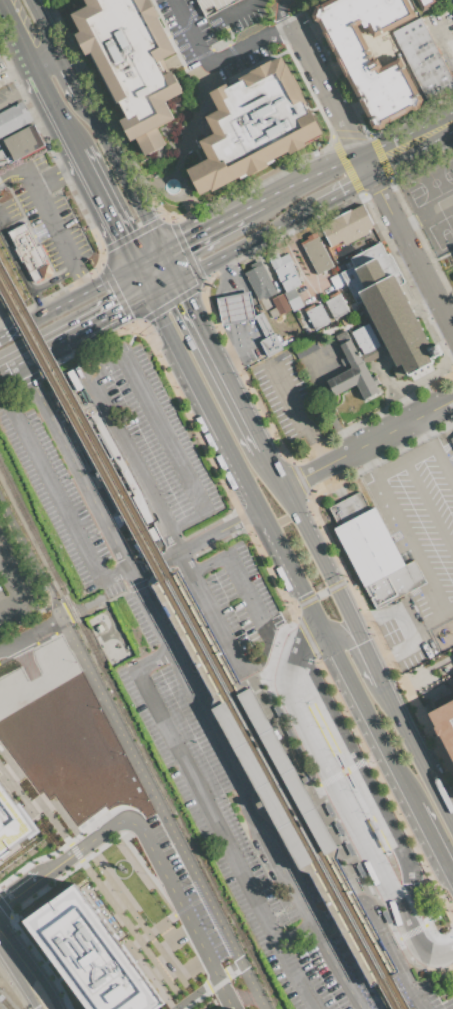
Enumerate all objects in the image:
building: (440, 0)
building: (450, 3)
building: (424, 4)
building: (212, 5)
parking garage: (212, 5)
road: (237, 11)
road: (280, 15)
road: (11, 35)
building: (366, 56)
building: (423, 57)
road: (217, 58)
building: (0, 61)
building: (143, 64)
road: (27, 65)
road: (57, 78)
road: (19, 96)
road: (52, 113)
building: (13, 118)
road: (344, 120)
road: (95, 125)
building: (251, 125)
building: (19, 145)
road: (412, 150)
road: (360, 152)
road: (16, 179)
road: (341, 192)
road: (266, 199)
road: (252, 206)
road: (103, 209)
road: (426, 214)
road: (47, 215)
road: (295, 216)
parking lot: (46, 221)
building: (347, 226)
road: (203, 230)
traffic signals: (117, 236)
traffic signals: (183, 241)
building: (27, 249)
road: (229, 251)
building: (317, 255)
road: (148, 259)
road: (169, 265)
building: (284, 270)
road: (422, 273)
road: (139, 281)
building: (259, 281)
building: (337, 282)
road: (26, 283)
road: (160, 287)
traffic signals: (185, 297)
building: (293, 300)
road: (35, 301)
road: (66, 301)
building: (336, 305)
building: (278, 306)
building: (233, 307)
gas station: (233, 307)
traffic signals: (118, 310)
road: (110, 313)
road: (235, 313)
road: (155, 315)
building: (316, 315)
road: (127, 316)
road: (143, 318)
building: (378, 322)
building: (263, 324)
building: (305, 329)
road: (128, 341)
building: (286, 341)
building: (269, 344)
building: (305, 346)
road: (38, 351)
building: (319, 361)
road: (219, 363)
parking lot: (291, 397)
road: (299, 415)
road: (407, 424)
road: (429, 432)
road: (164, 433)
parking lot: (144, 435)
building: (451, 441)
road: (445, 461)
road: (371, 463)
road: (409, 463)
road: (231, 464)
road: (323, 468)
parking lot: (60, 483)
road: (55, 494)
road: (322, 494)
road: (430, 505)
parking lot: (419, 518)
road: (164, 525)
road: (306, 533)
road: (193, 544)
road: (414, 550)
building: (372, 551)
road: (182, 560)
road: (159, 573)
parking lot: (13, 585)
road: (137, 585)
road: (11, 589)
traffic signals: (298, 592)
road: (321, 592)
road: (248, 598)
road: (102, 602)
parking lot: (234, 606)
road: (296, 611)
road: (310, 612)
road: (68, 617)
road: (425, 624)
road: (401, 627)
road: (196, 631)
road: (354, 631)
road: (341, 634)
road: (31, 635)
railway: (201, 636)
road: (306, 637)
road: (308, 638)
traffic signals: (360, 642)
railway: (196, 645)
road: (369, 664)
road: (258, 675)
road: (429, 677)
road: (399, 680)
road: (190, 685)
road: (254, 688)
road: (224, 693)
road: (289, 696)
road: (324, 697)
road: (370, 721)
building: (446, 725)
railway: (138, 738)
road: (131, 753)
road: (416, 757)
road: (321, 762)
road: (340, 772)
railway: (282, 773)
building: (272, 777)
railway: (266, 783)
road: (384, 789)
road: (375, 794)
road: (340, 798)
road: (324, 812)
road: (65, 818)
road: (213, 821)
building: (11, 822)
road: (297, 824)
parking lot: (241, 828)
road: (296, 829)
building: (374, 829)
road: (147, 843)
road: (435, 846)
road: (373, 863)
road: (101, 865)
road: (88, 871)
road: (408, 877)
road: (111, 893)
road: (449, 907)
road: (404, 917)
road: (134, 926)
road: (380, 927)
road: (411, 931)
road: (166, 932)
road: (372, 933)
road: (413, 935)
road: (149, 936)
road: (437, 937)
road: (174, 938)
road: (355, 938)
road: (135, 942)
road: (451, 949)
building: (89, 954)
road: (434, 955)
road: (30, 964)
road: (158, 966)
road: (191, 966)
road: (228, 970)
road: (17, 983)
road: (194, 993)
railway: (4, 1004)
building: (446, 1004)

